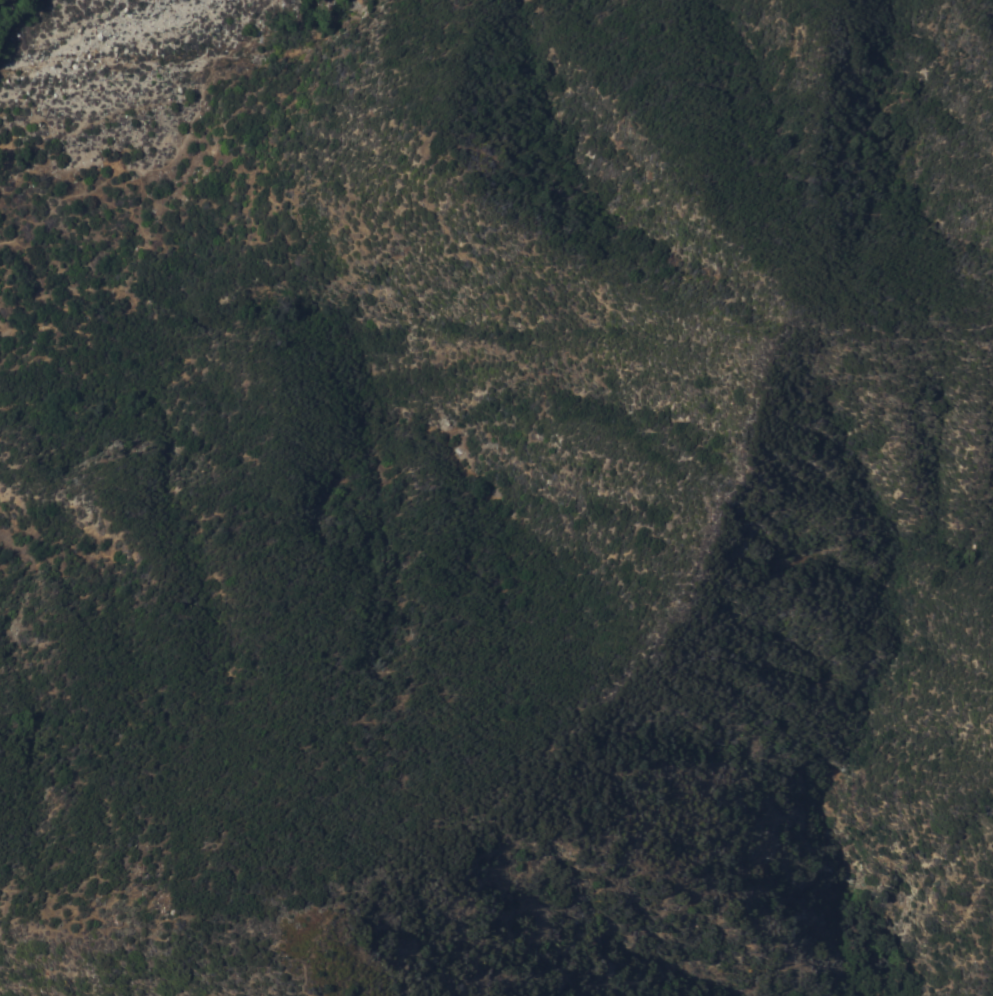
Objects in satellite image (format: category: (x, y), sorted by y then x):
river: (16, 18)
road: (293, 972)

